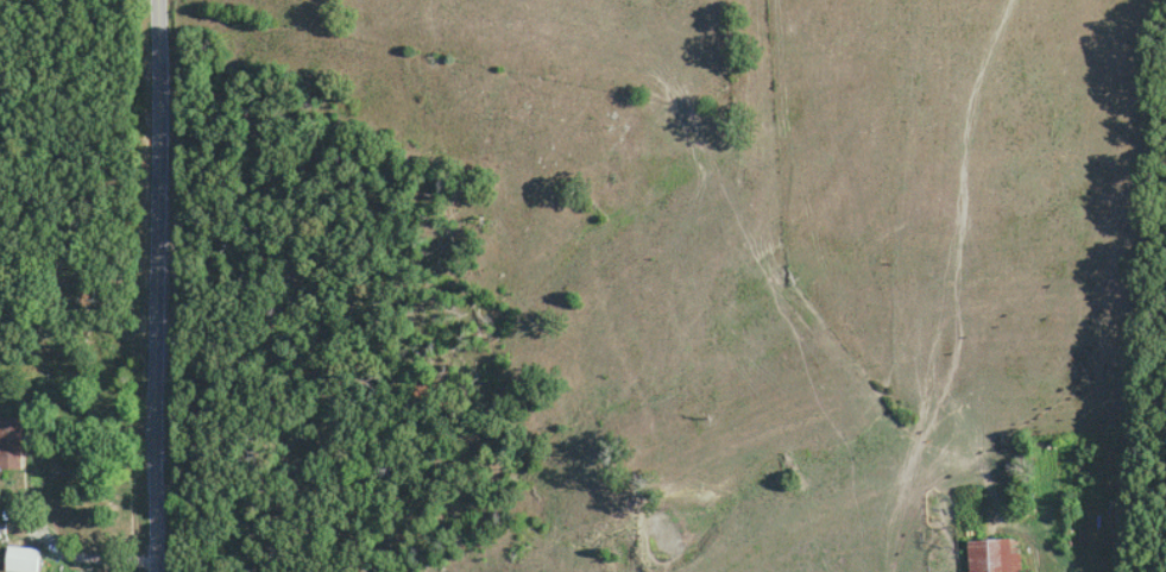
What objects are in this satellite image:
road: (155, 285)
building: (10, 440)
road: (1041, 543)
road: (92, 554)
building: (994, 554)
building: (21, 558)

